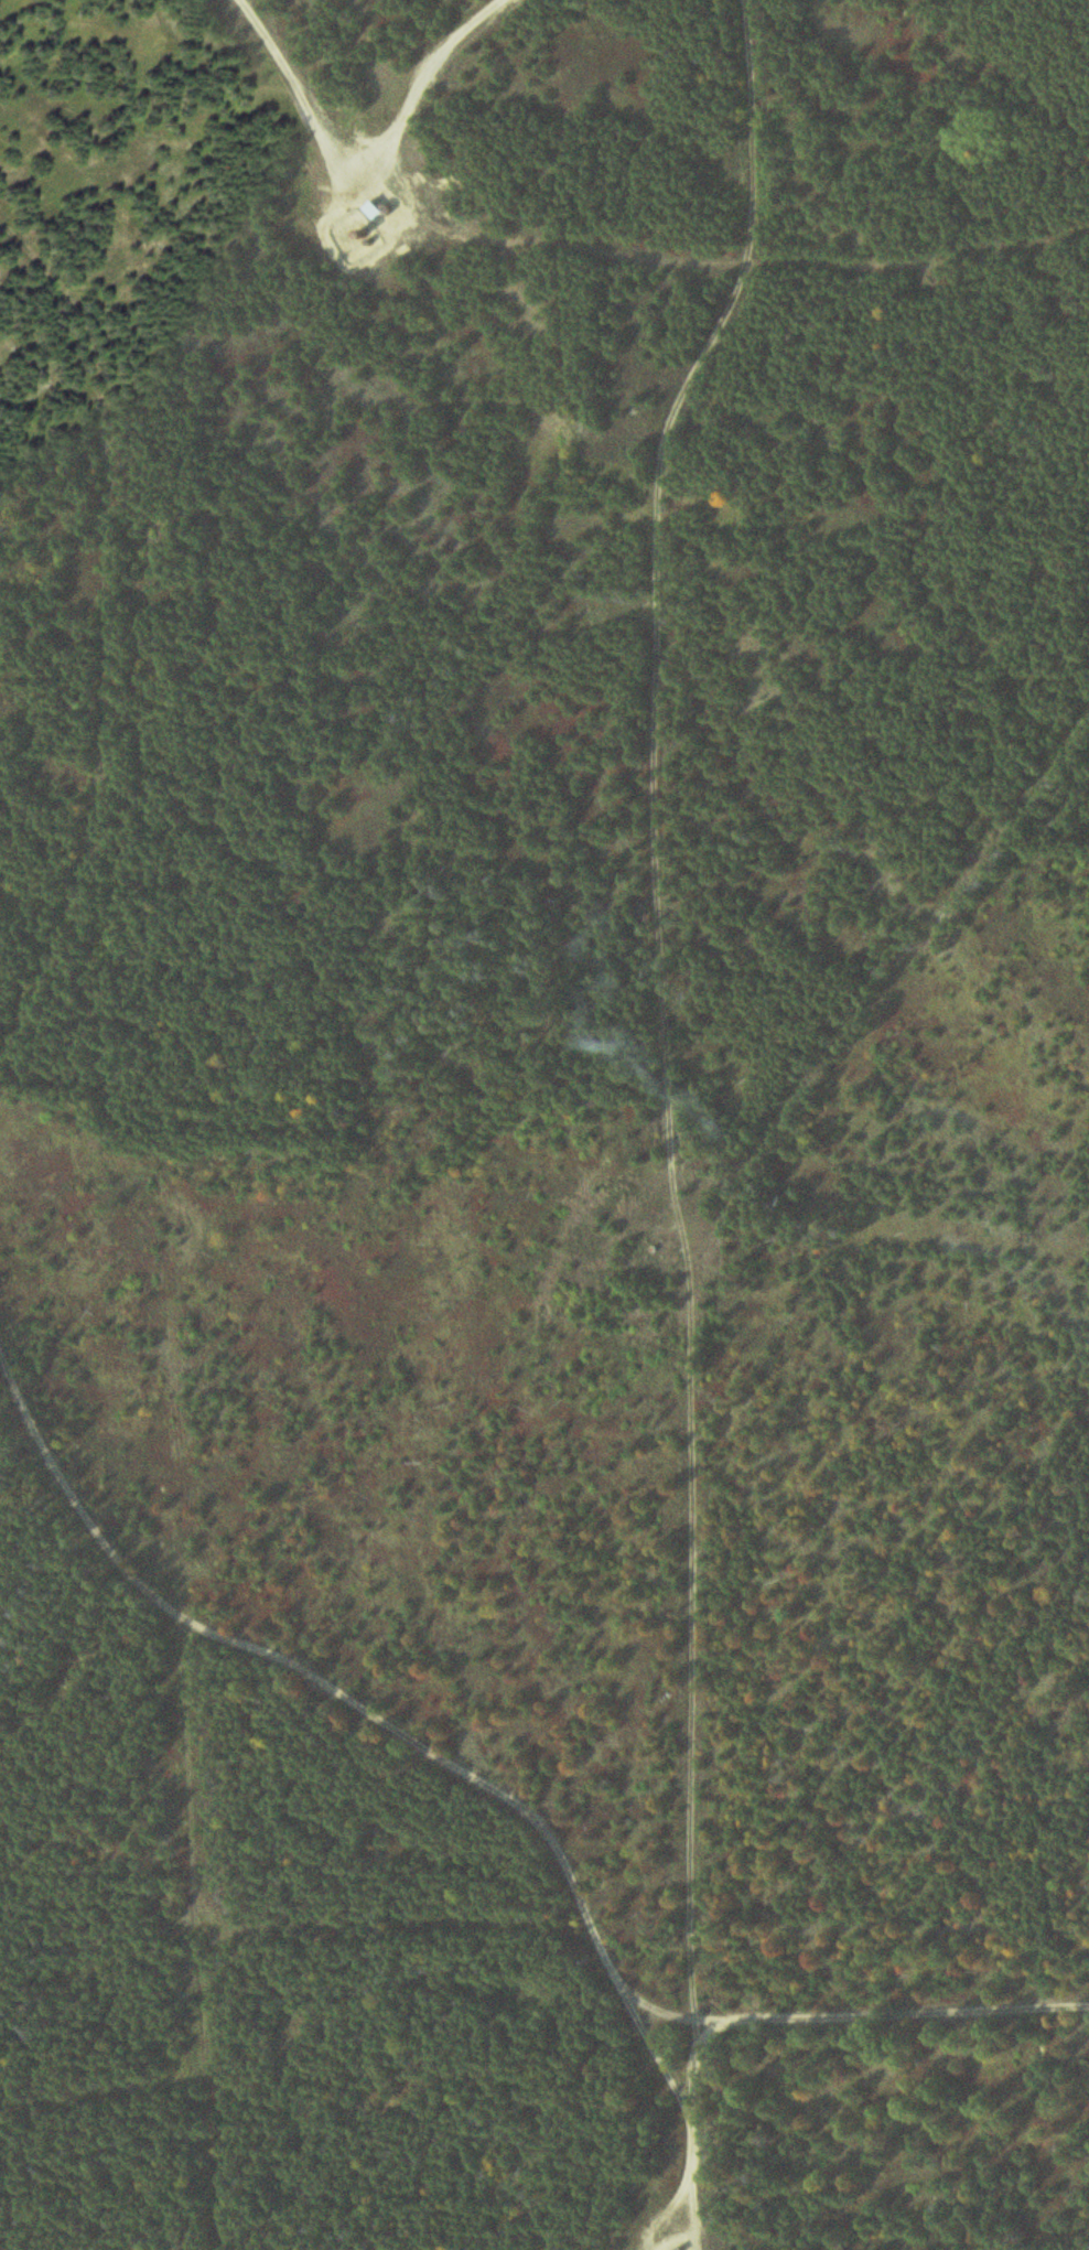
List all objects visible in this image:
road: (357, 154)
building: (374, 211)
petroleum well: (364, 233)
road: (656, 560)
road: (112, 606)
road: (431, 1751)
road: (870, 2013)

